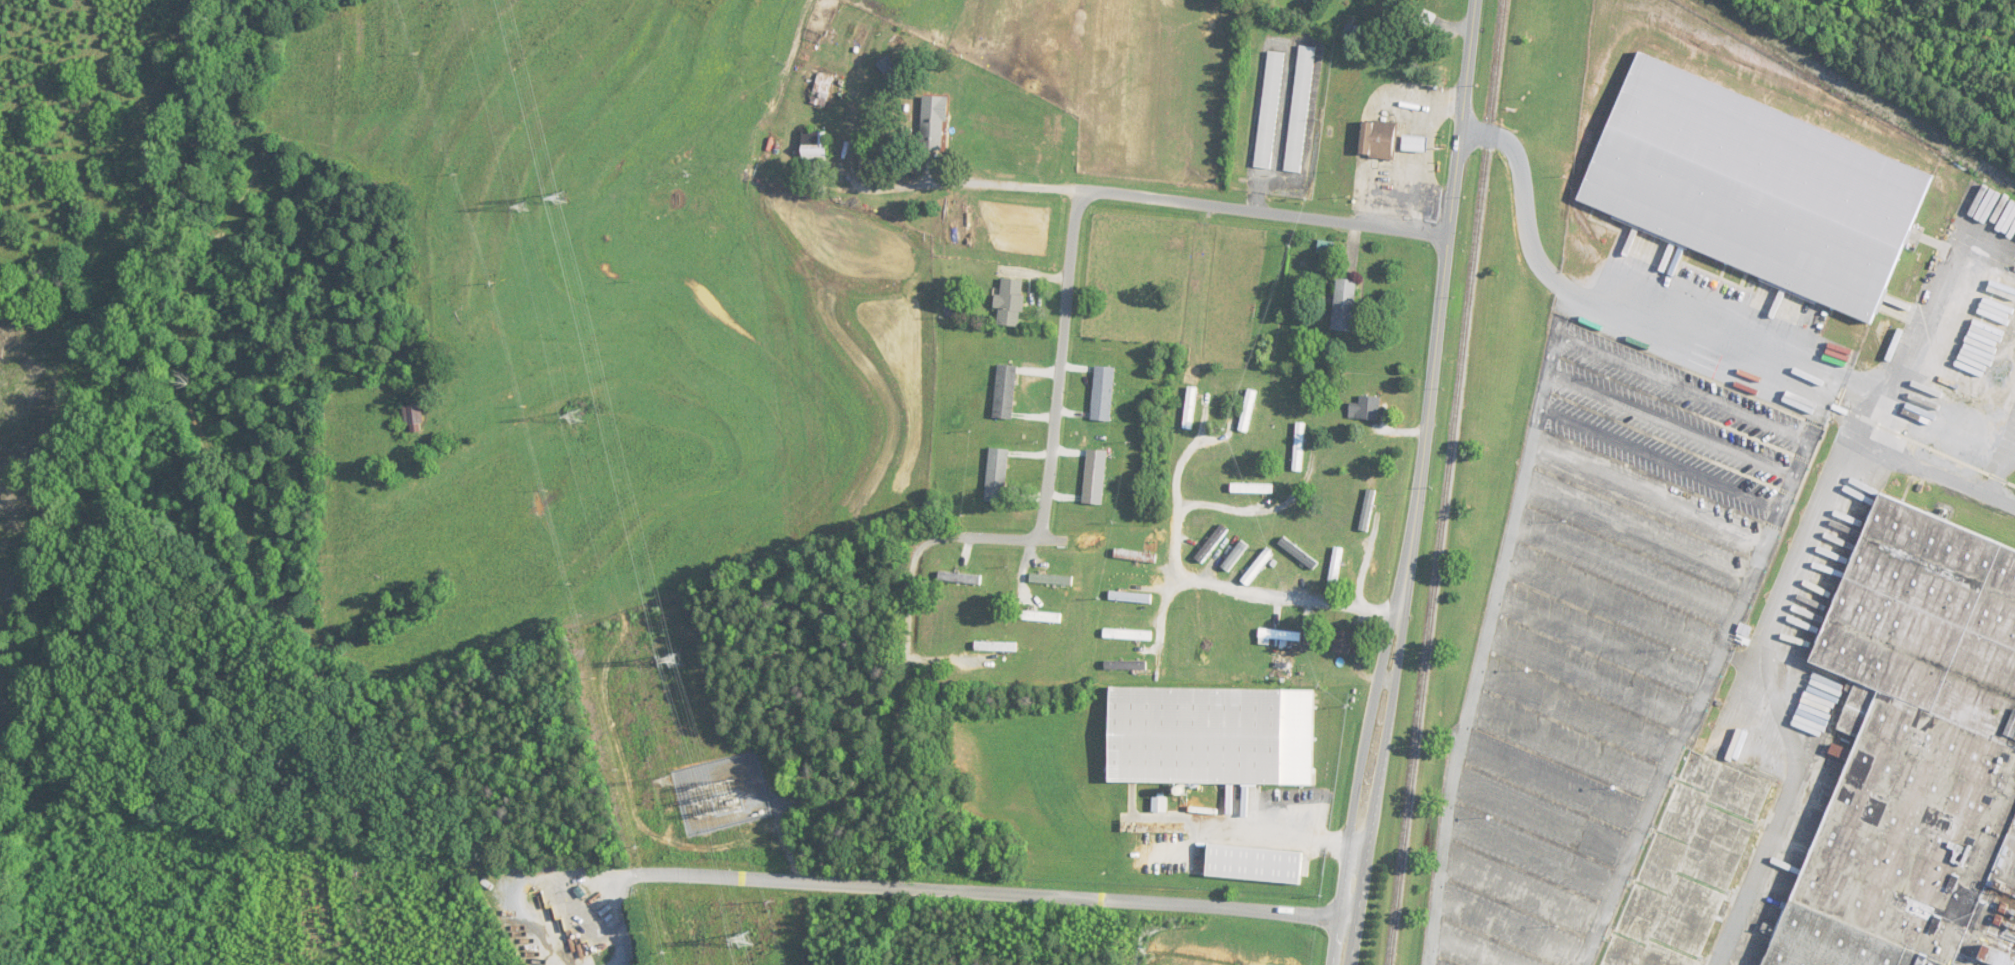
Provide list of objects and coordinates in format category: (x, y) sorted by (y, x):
building: (822, 90)
railway: (1863, 92)
building: (1269, 110)
building: (1299, 110)
building: (934, 124)
building: (1378, 140)
building: (1413, 145)
building: (815, 147)
building: (1760, 187)
road: (881, 192)
power tower: (559, 198)
road: (1201, 205)
power tower: (521, 209)
road: (1071, 269)
building: (1009, 303)
building: (1344, 306)
road: (1711, 332)
building: (1004, 392)
building: (1102, 394)
building: (1190, 408)
building: (1365, 409)
building: (1248, 411)
road: (1872, 412)
power tower: (570, 417)
river: (155, 445)
building: (1299, 447)
building: (997, 476)
building: (1094, 477)
road: (1422, 484)
building: (1252, 489)
road: (1252, 506)
building: (1368, 510)
road: (1181, 532)
road: (927, 542)
building: (1212, 544)
building: (1298, 552)
building: (1135, 556)
building: (1235, 556)
building: (1257, 567)
building: (1335, 568)
building: (961, 577)
building: (1050, 579)
road: (1289, 596)
building: (1130, 597)
building: (1036, 616)
road: (1794, 625)
building: (1127, 634)
building: (1284, 638)
parking lot: (1616, 639)
building: (1343, 642)
building: (996, 646)
power tower: (671, 659)
building: (1125, 664)
building: (1211, 736)
building: (1917, 746)
power substation: (721, 793)
road: (1270, 839)
building: (1683, 864)
road: (974, 893)
building: (1996, 920)
power tower: (742, 939)

